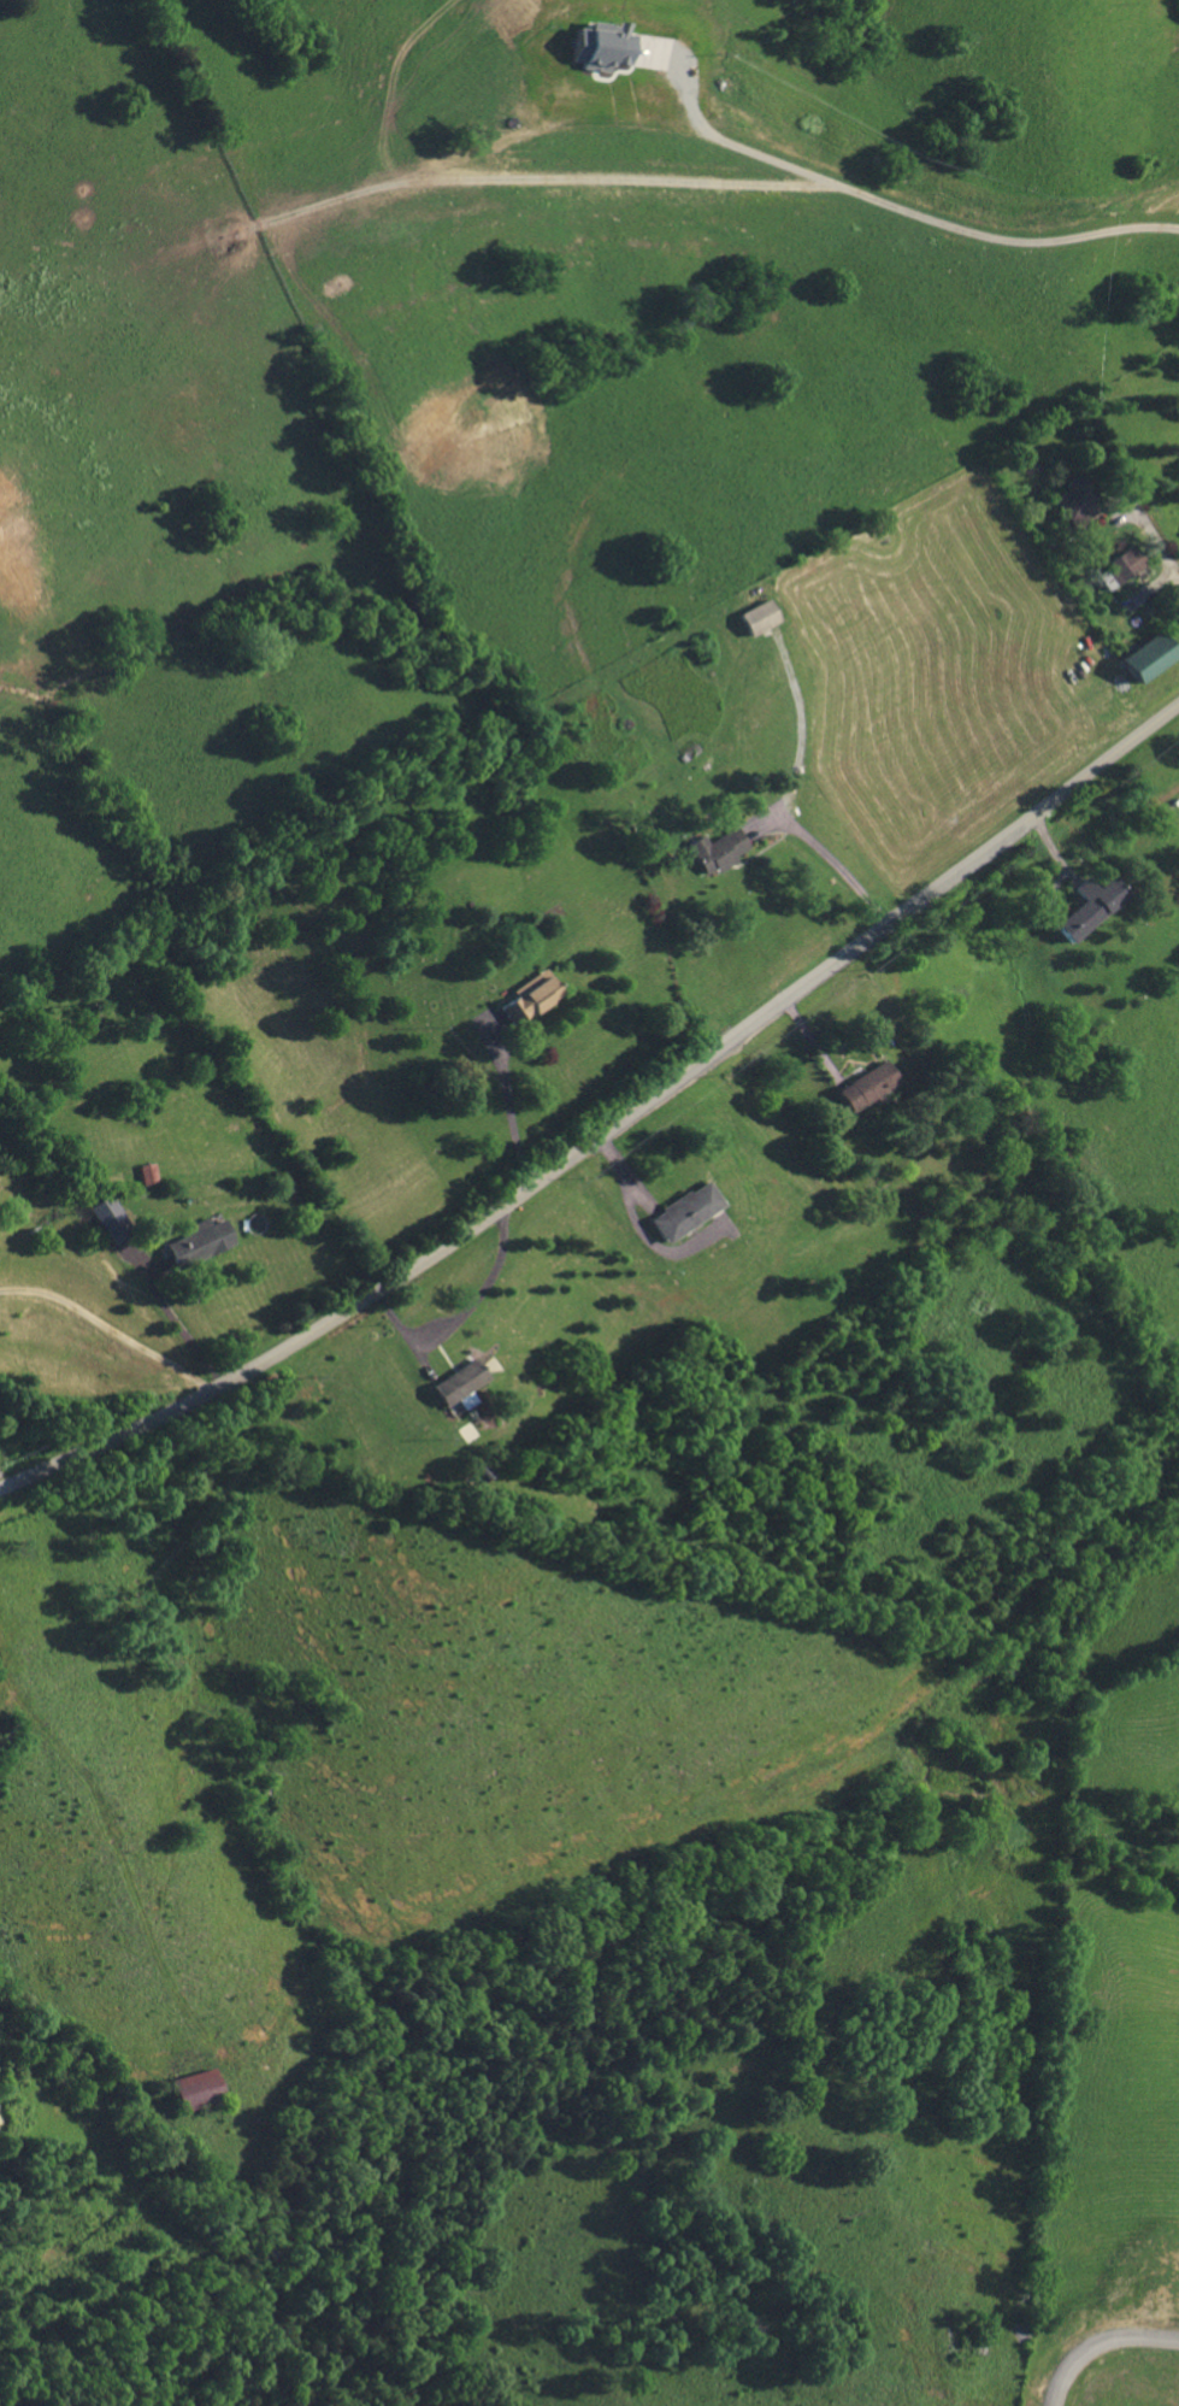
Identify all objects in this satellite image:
building: (596, 45)
road: (525, 180)
road: (889, 204)
building: (1075, 501)
road: (1162, 553)
building: (1120, 566)
building: (756, 617)
building: (1145, 657)
building: (715, 849)
road: (832, 867)
building: (1091, 906)
building: (527, 996)
building: (863, 1084)
road: (508, 1110)
road: (609, 1133)
building: (682, 1211)
building: (106, 1224)
building: (196, 1241)
road: (111, 1326)
road: (182, 1326)
building: (481, 1471)
building: (196, 2087)
road: (1100, 2343)

